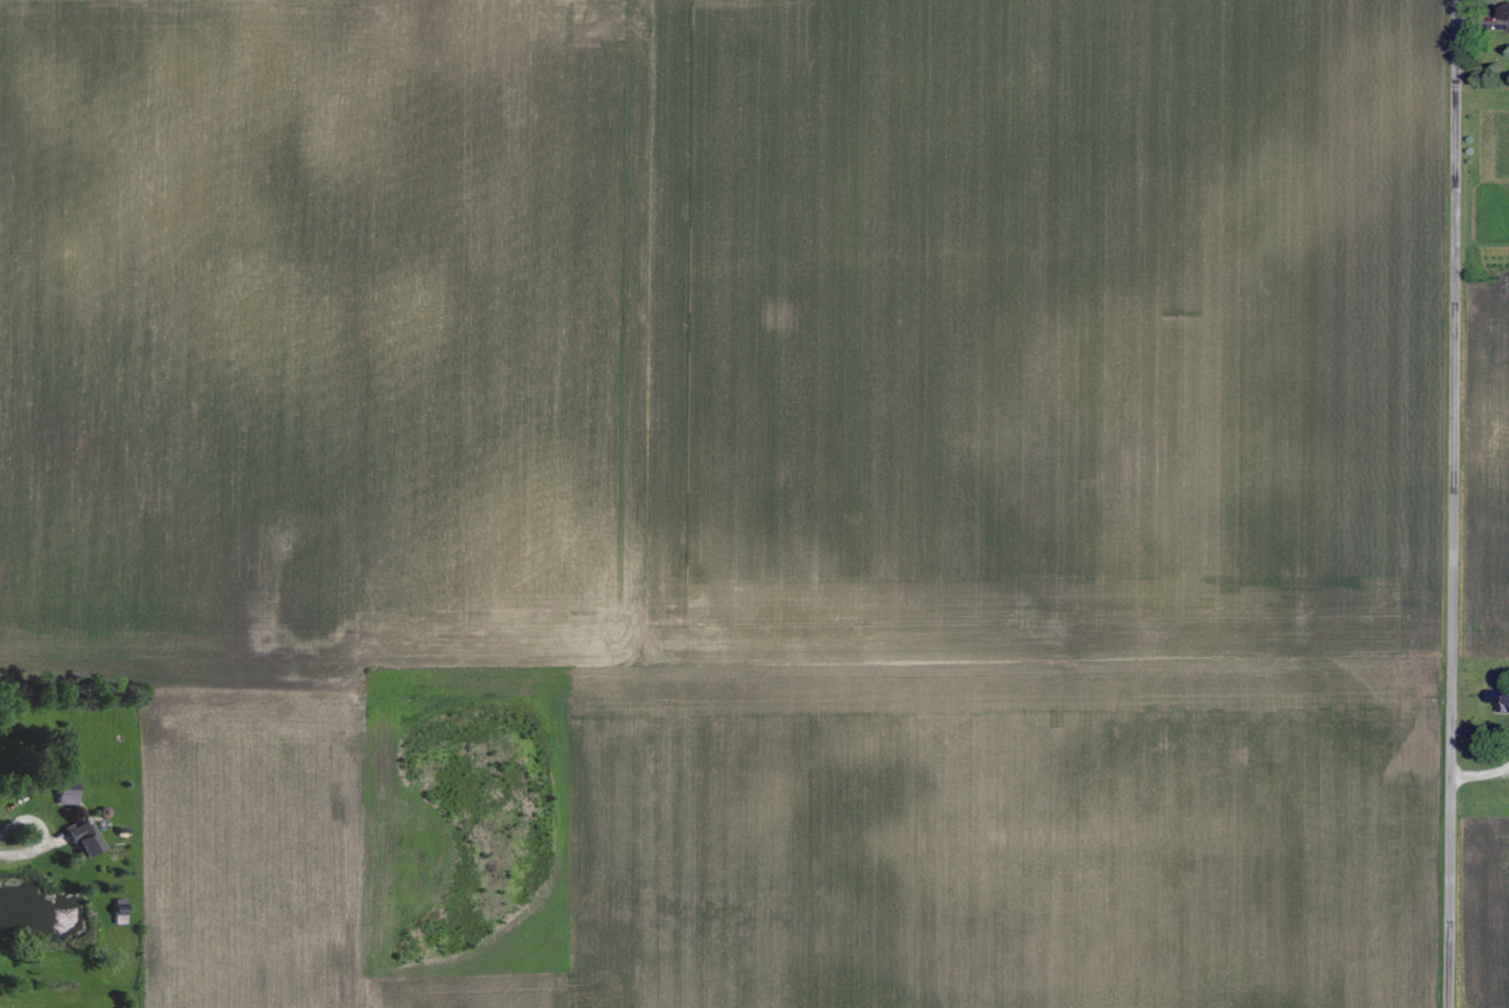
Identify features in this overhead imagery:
road: (1459, 504)
building: (69, 795)
road: (45, 833)
building: (86, 836)

